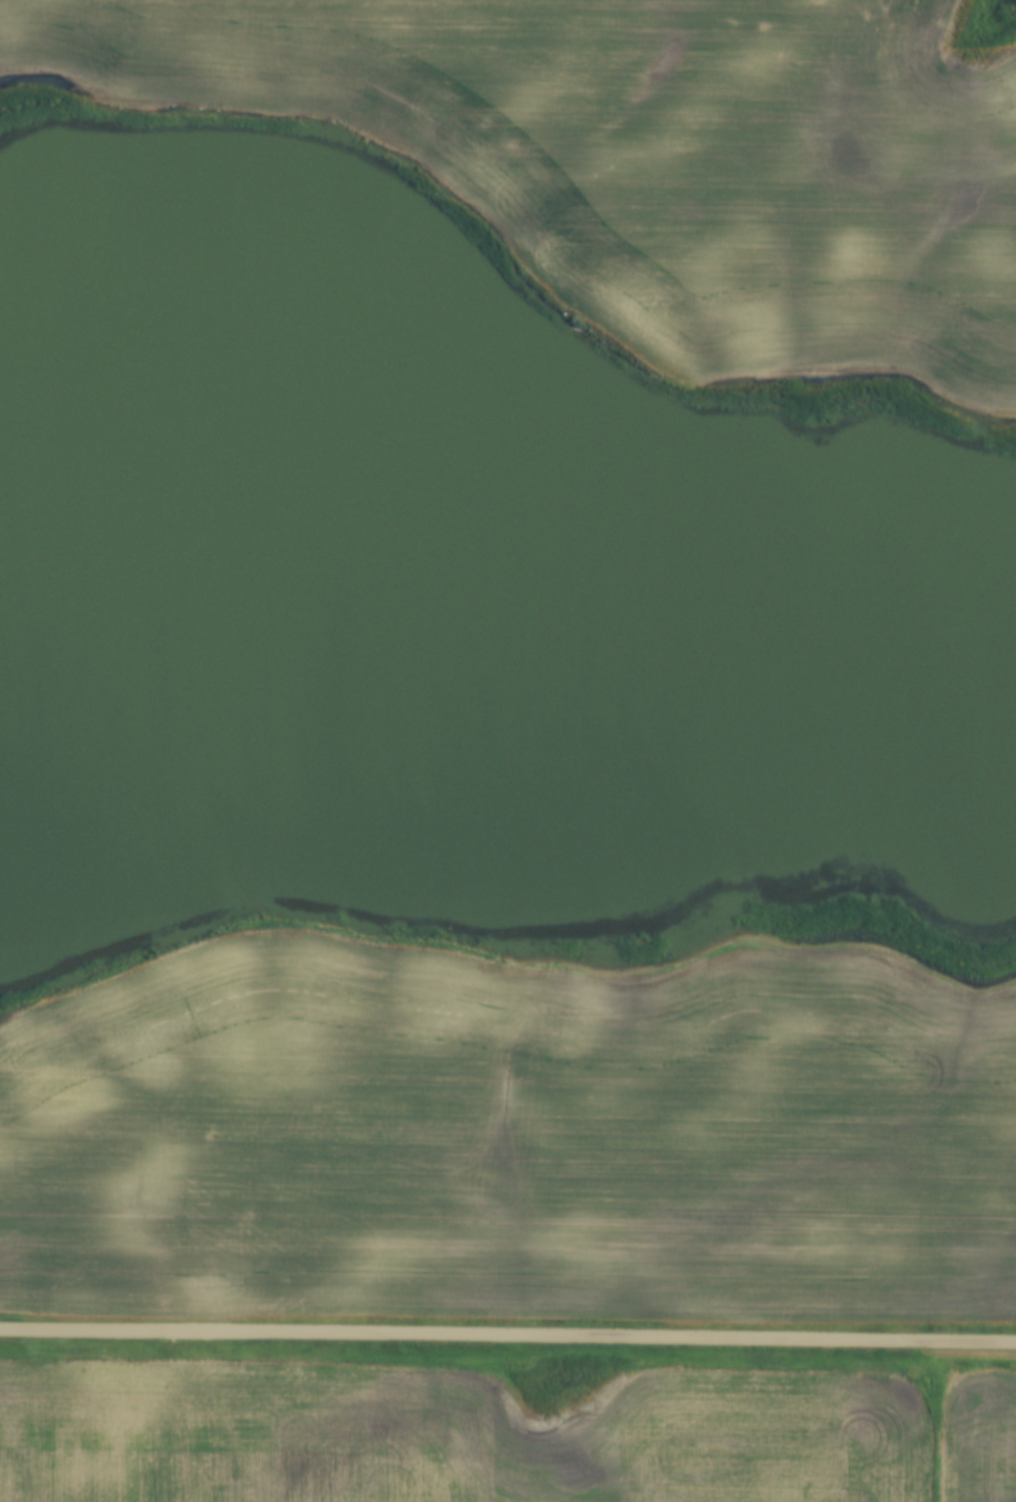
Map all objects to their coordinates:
road: (508, 1337)

